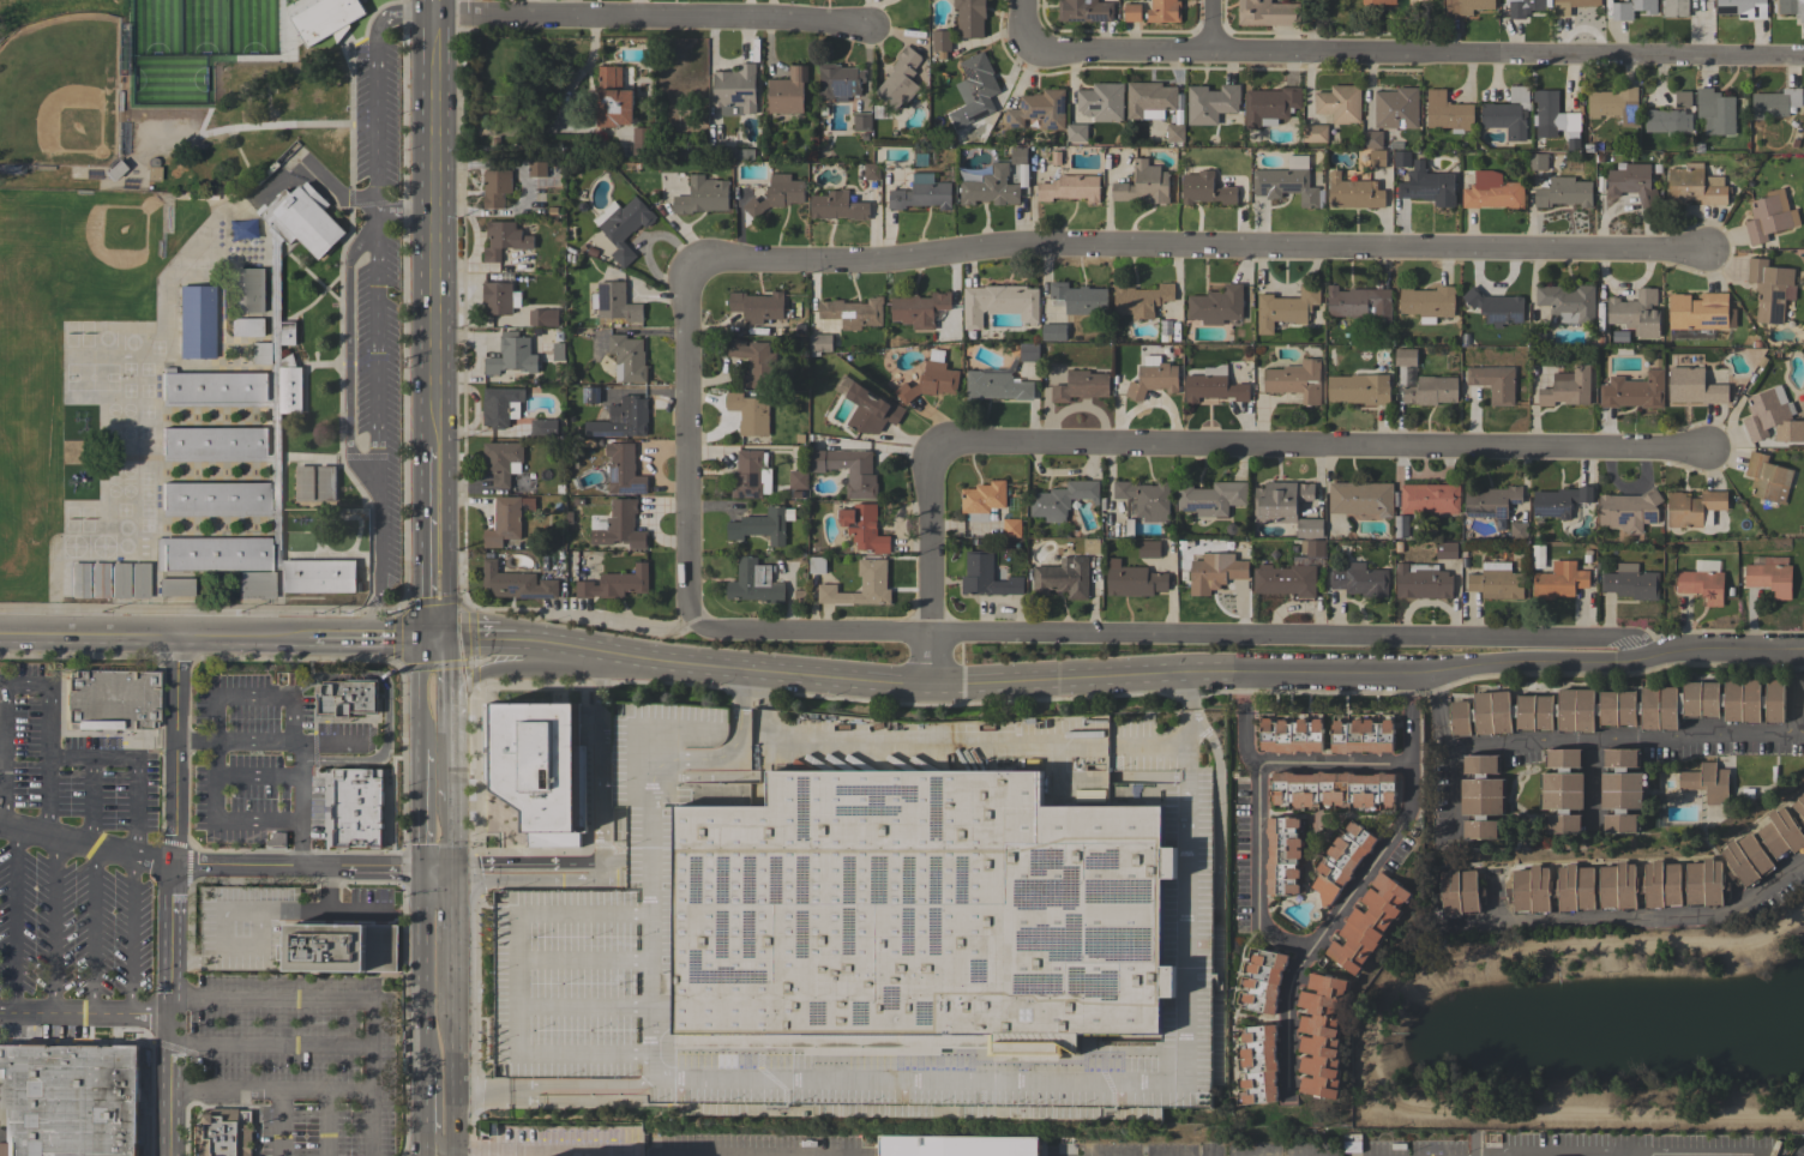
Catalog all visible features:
building: (1379, 2)
building: (1467, 6)
road: (435, 7)
building: (1523, 7)
building: (1632, 8)
building: (1674, 8)
building: (1743, 8)
building: (1792, 8)
building: (1084, 11)
building: (1163, 11)
building: (1562, 11)
building: (1131, 12)
building: (1267, 13)
building: (970, 18)
road: (653, 20)
road: (1027, 24)
road: (1217, 26)
building: (940, 40)
road: (1415, 52)
building: (900, 79)
building: (840, 80)
building: (979, 83)
park: (169, 90)
building: (735, 90)
building: (787, 91)
park: (59, 92)
building: (613, 98)
building: (1149, 100)
building: (1683, 100)
building: (1101, 101)
building: (191, 103)
building: (1210, 103)
building: (1339, 103)
building: (1775, 103)
building: (1614, 104)
building: (1270, 106)
building: (1396, 108)
building: (1039, 109)
building: (1552, 112)
building: (1715, 112)
building: (1448, 113)
building: (1508, 114)
building: (1666, 120)
building: (861, 121)
road: (248, 126)
building: (1076, 132)
building: (1175, 133)
building: (1315, 133)
building: (1372, 139)
building: (641, 140)
road: (237, 151)
building: (745, 153)
building: (1018, 155)
building: (1377, 158)
building: (1402, 158)
building: (1538, 161)
building: (536, 168)
building: (112, 170)
building: (151, 170)
building: (871, 170)
building: (1143, 183)
building: (1632, 183)
building: (1285, 185)
building: (990, 186)
building: (1427, 186)
building: (1695, 186)
building: (495, 188)
building: (1070, 188)
building: (1204, 189)
building: (1492, 191)
road: (330, 193)
building: (920, 193)
building: (1354, 193)
building: (1564, 193)
building: (776, 194)
building: (702, 195)
building: (200, 197)
building: (837, 206)
road: (404, 207)
building: (1769, 216)
building: (623, 225)
road: (434, 231)
building: (504, 239)
road: (1202, 245)
building: (249, 289)
building: (1770, 289)
parking lot: (374, 290)
building: (497, 297)
building: (1078, 299)
building: (1141, 300)
building: (614, 302)
building: (1360, 302)
building: (1427, 302)
building: (1568, 302)
building: (998, 303)
road: (374, 305)
building: (757, 305)
building: (1220, 306)
building: (1496, 307)
building: (1286, 308)
building: (919, 309)
building: (852, 312)
building: (1700, 312)
building: (1635, 313)
building: (543, 317)
building: (194, 321)
building: (246, 327)
building: (1165, 330)
building: (1053, 332)
building: (819, 343)
building: (510, 354)
building: (627, 357)
building: (1406, 357)
building: (754, 362)
building: (1409, 375)
building: (1003, 378)
building: (1153, 378)
building: (1295, 380)
building: (930, 381)
building: (1493, 383)
building: (1214, 385)
building: (1081, 386)
building: (1692, 386)
building: (1567, 387)
building: (1359, 389)
building: (1431, 390)
building: (1634, 391)
building: (590, 395)
building: (501, 407)
building: (871, 411)
building: (1767, 411)
building: (750, 413)
building: (621, 420)
building: (542, 427)
building: (248, 432)
road: (684, 446)
road: (1318, 450)
building: (503, 460)
building: (623, 470)
building: (848, 470)
building: (747, 475)
building: (1767, 478)
building: (798, 480)
building: (303, 482)
building: (326, 482)
building: (1211, 498)
building: (1360, 498)
building: (1062, 499)
building: (1145, 499)
building: (1430, 499)
building: (982, 500)
building: (1492, 501)
building: (1559, 501)
building: (1286, 506)
building: (1692, 507)
building: (1629, 510)
building: (506, 519)
building: (621, 525)
building: (762, 525)
road: (432, 526)
building: (864, 526)
building: (1011, 528)
building: (1519, 531)
building: (1092, 546)
building: (1312, 547)
building: (1149, 549)
building: (1445, 550)
building: (817, 565)
road: (930, 566)
building: (1214, 572)
building: (1769, 574)
building: (987, 577)
building: (1063, 578)
building: (77, 580)
building: (96, 580)
building: (118, 580)
building: (138, 580)
building: (1132, 580)
building: (1285, 580)
building: (1360, 580)
building: (1423, 580)
building: (1558, 580)
building: (754, 582)
building: (1496, 582)
building: (1631, 582)
building: (516, 583)
building: (614, 584)
building: (254, 585)
building: (861, 585)
building: (1702, 585)
building: (174, 586)
road: (425, 621)
road: (440, 621)
road: (152, 634)
road: (362, 637)
road: (433, 637)
traffic signals: (449, 637)
traffic signals: (419, 638)
road: (488, 638)
road: (1069, 639)
road: (1599, 649)
road: (521, 669)
road: (608, 675)
road: (1163, 676)
road: (449, 679)
road: (1, 684)
road: (1796, 692)
road: (419, 693)
building: (347, 698)
road: (291, 699)
building: (112, 703)
building: (1803, 706)
building: (1619, 708)
road: (1437, 710)
road: (1407, 717)
road: (599, 718)
road: (1243, 721)
road: (47, 723)
road: (1800, 733)
building: (1291, 735)
building: (1361, 736)
road: (1624, 740)
road: (331, 741)
road: (1181, 745)
road: (300, 758)
road: (449, 761)
road: (1330, 764)
building: (539, 767)
road: (279, 775)
road: (1590, 781)
building: (1707, 782)
building: (1334, 789)
building: (1562, 790)
building: (1623, 790)
road: (1453, 791)
road: (46, 797)
building: (1481, 797)
road: (91, 803)
building: (357, 807)
road: (422, 809)
road: (1310, 815)
road: (218, 821)
road: (449, 835)
road: (85, 845)
building: (1764, 845)
building: (1283, 855)
building: (1342, 862)
road: (600, 865)
road: (311, 867)
traffic signals: (425, 869)
traffic signals: (451, 869)
road: (470, 869)
road: (1257, 873)
building: (1618, 886)
building: (1460, 891)
road: (170, 896)
road: (1294, 901)
road: (451, 907)
building: (922, 911)
road: (1635, 919)
road: (14, 921)
road: (1330, 922)
building: (1369, 922)
road: (53, 926)
road: (92, 932)
building: (284, 934)
road: (130, 935)
road: (425, 974)
road: (451, 974)
building: (1264, 981)
road: (517, 983)
road: (350, 997)
road: (84, 1014)
building: (1321, 1035)
road: (271, 1044)
building: (1261, 1064)
road: (838, 1079)
road: (452, 1080)
road: (551, 1084)
road: (258, 1088)
road: (327, 1089)
building: (70, 1100)
road: (425, 1112)
road: (326, 1122)
building: (486, 1128)
building: (224, 1132)
building: (957, 1145)
road: (530, 1146)
road: (425, 1150)
road: (734, 1155)
road: (824, 1155)

